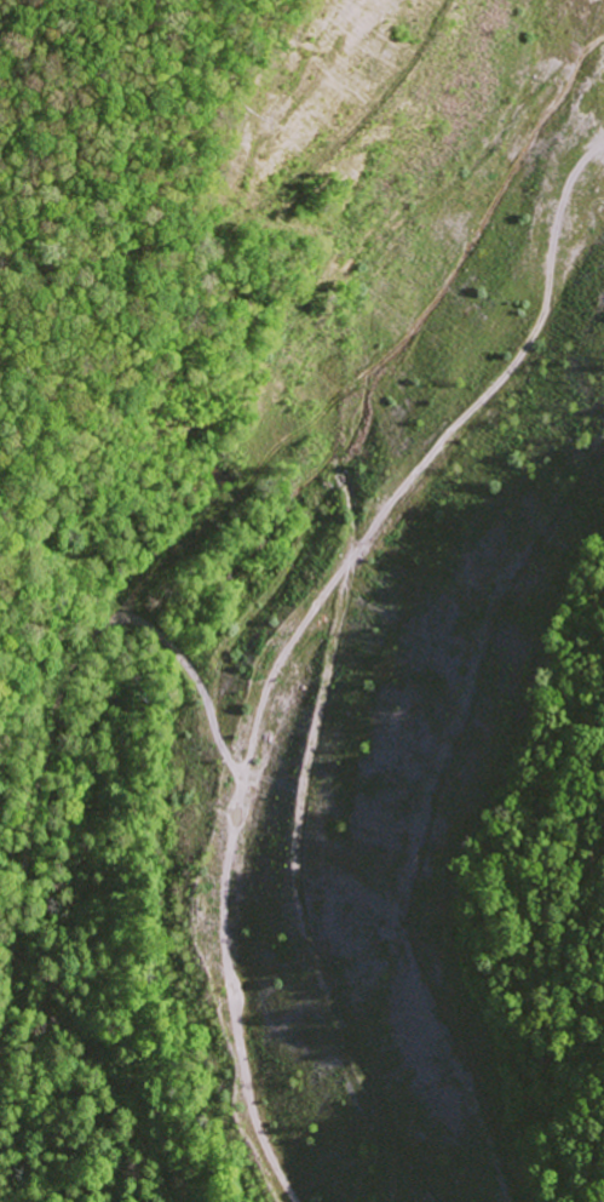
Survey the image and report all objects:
road: (327, 576)

